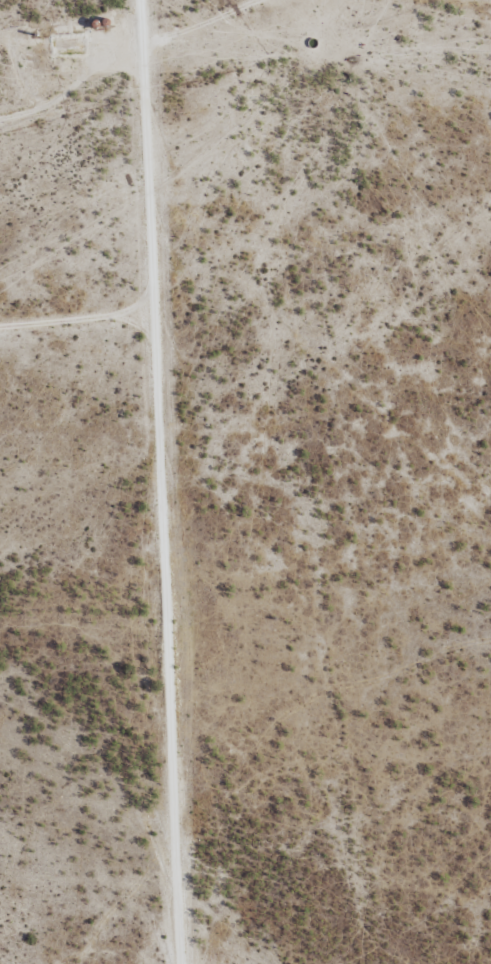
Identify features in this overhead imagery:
road: (134, 76)
road: (135, 482)

